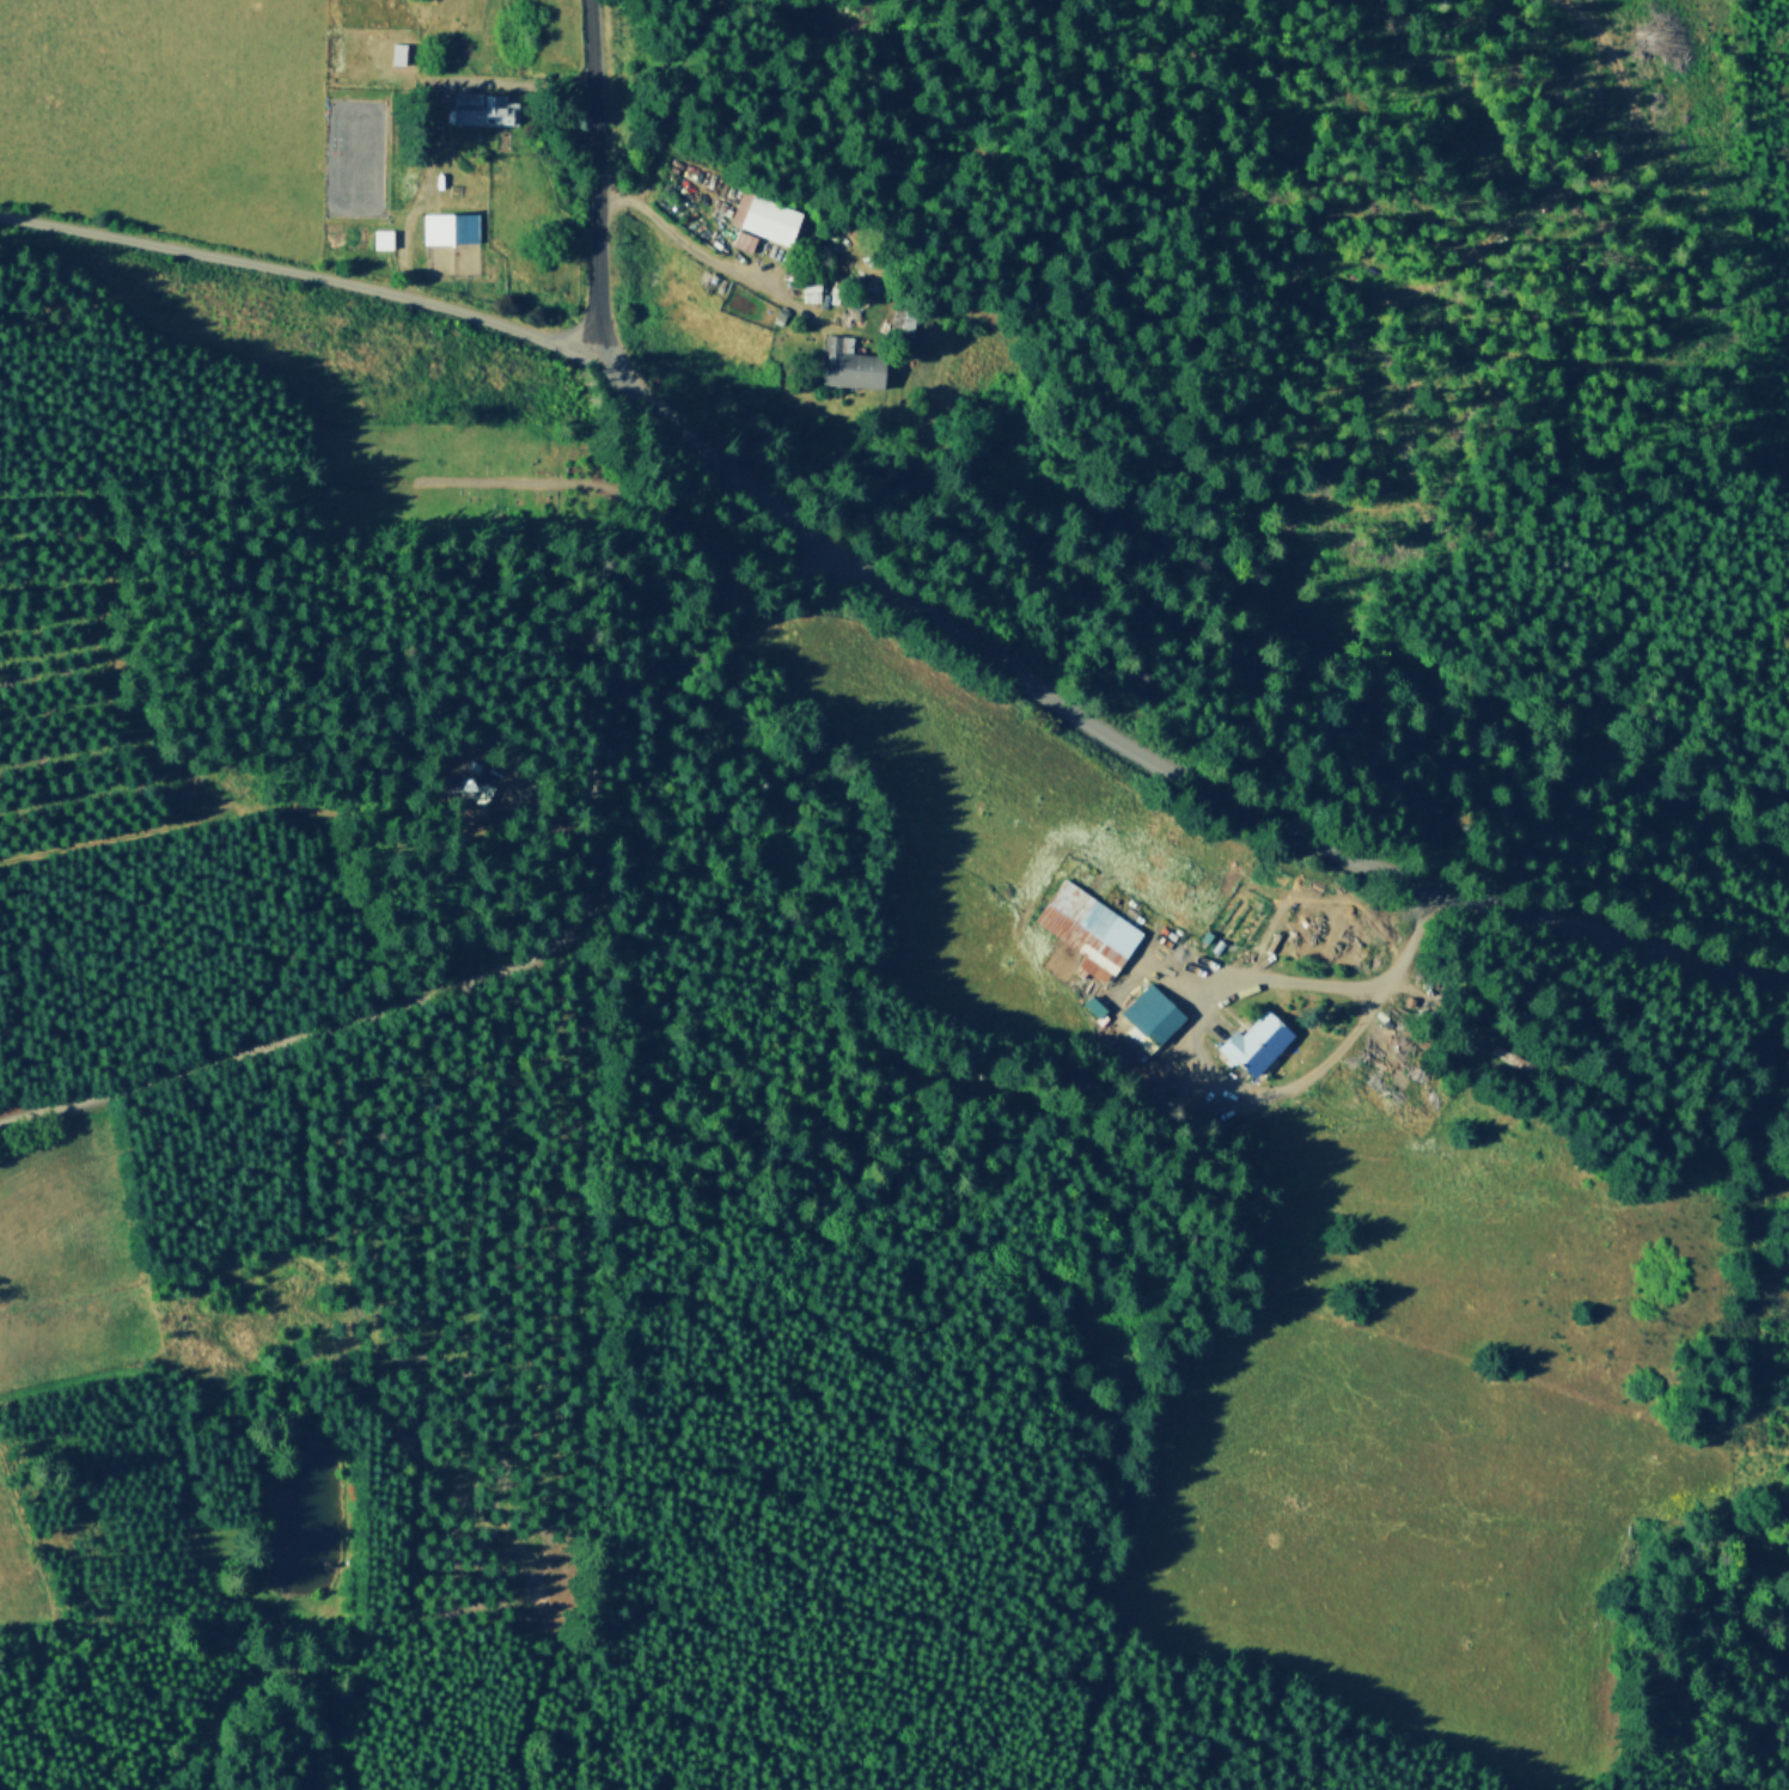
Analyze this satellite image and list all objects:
building: (404, 53)
road: (446, 85)
building: (489, 106)
road: (1080, 179)
road: (594, 184)
building: (770, 221)
building: (454, 227)
building: (381, 238)
building: (744, 240)
road: (313, 270)
road: (728, 270)
building: (493, 277)
building: (782, 316)
building: (900, 328)
building: (847, 367)
park: (459, 477)
road: (597, 487)
road: (1156, 763)
building: (482, 793)
building: (1087, 929)
road: (537, 959)
road: (1180, 984)
building: (1092, 1006)
building: (1152, 1024)
building: (1254, 1046)
building: (1513, 1062)
road: (1238, 1095)
road: (590, 1339)
road: (175, 1421)
road: (280, 1666)
road: (204, 1739)

